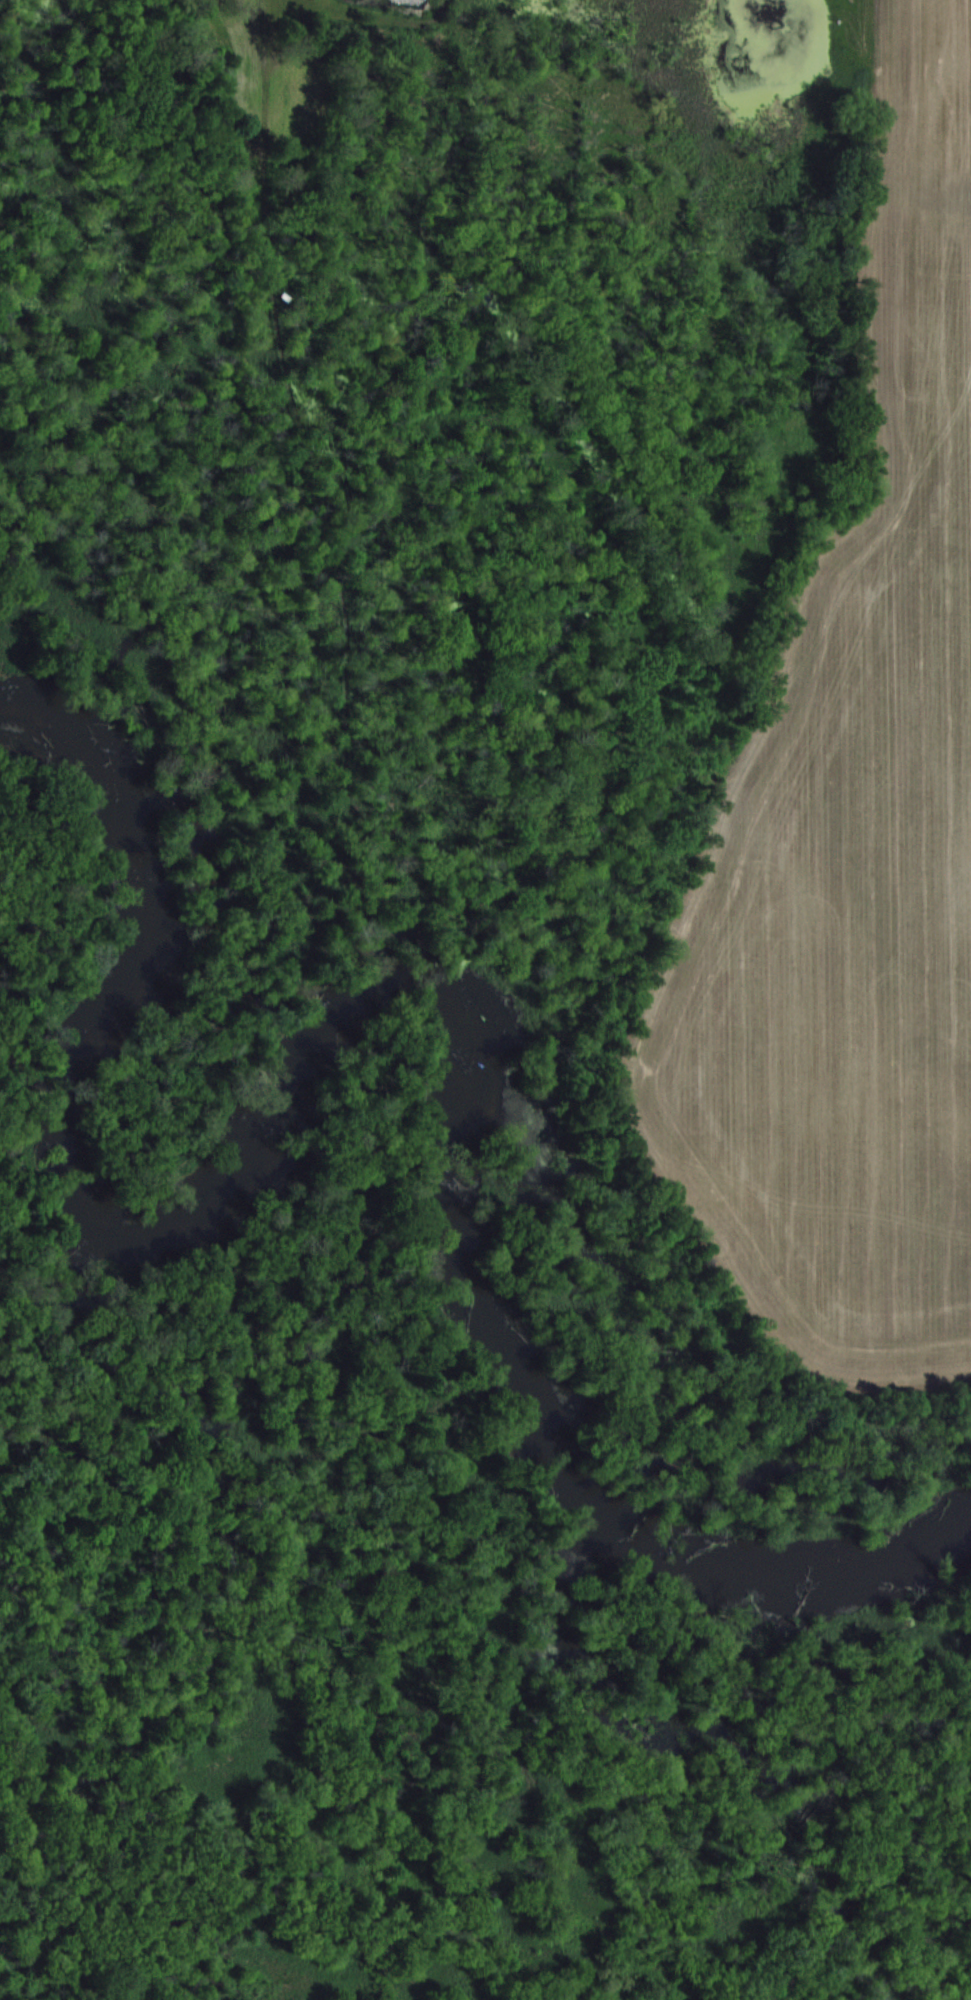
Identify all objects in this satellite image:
river: (372, 992)

